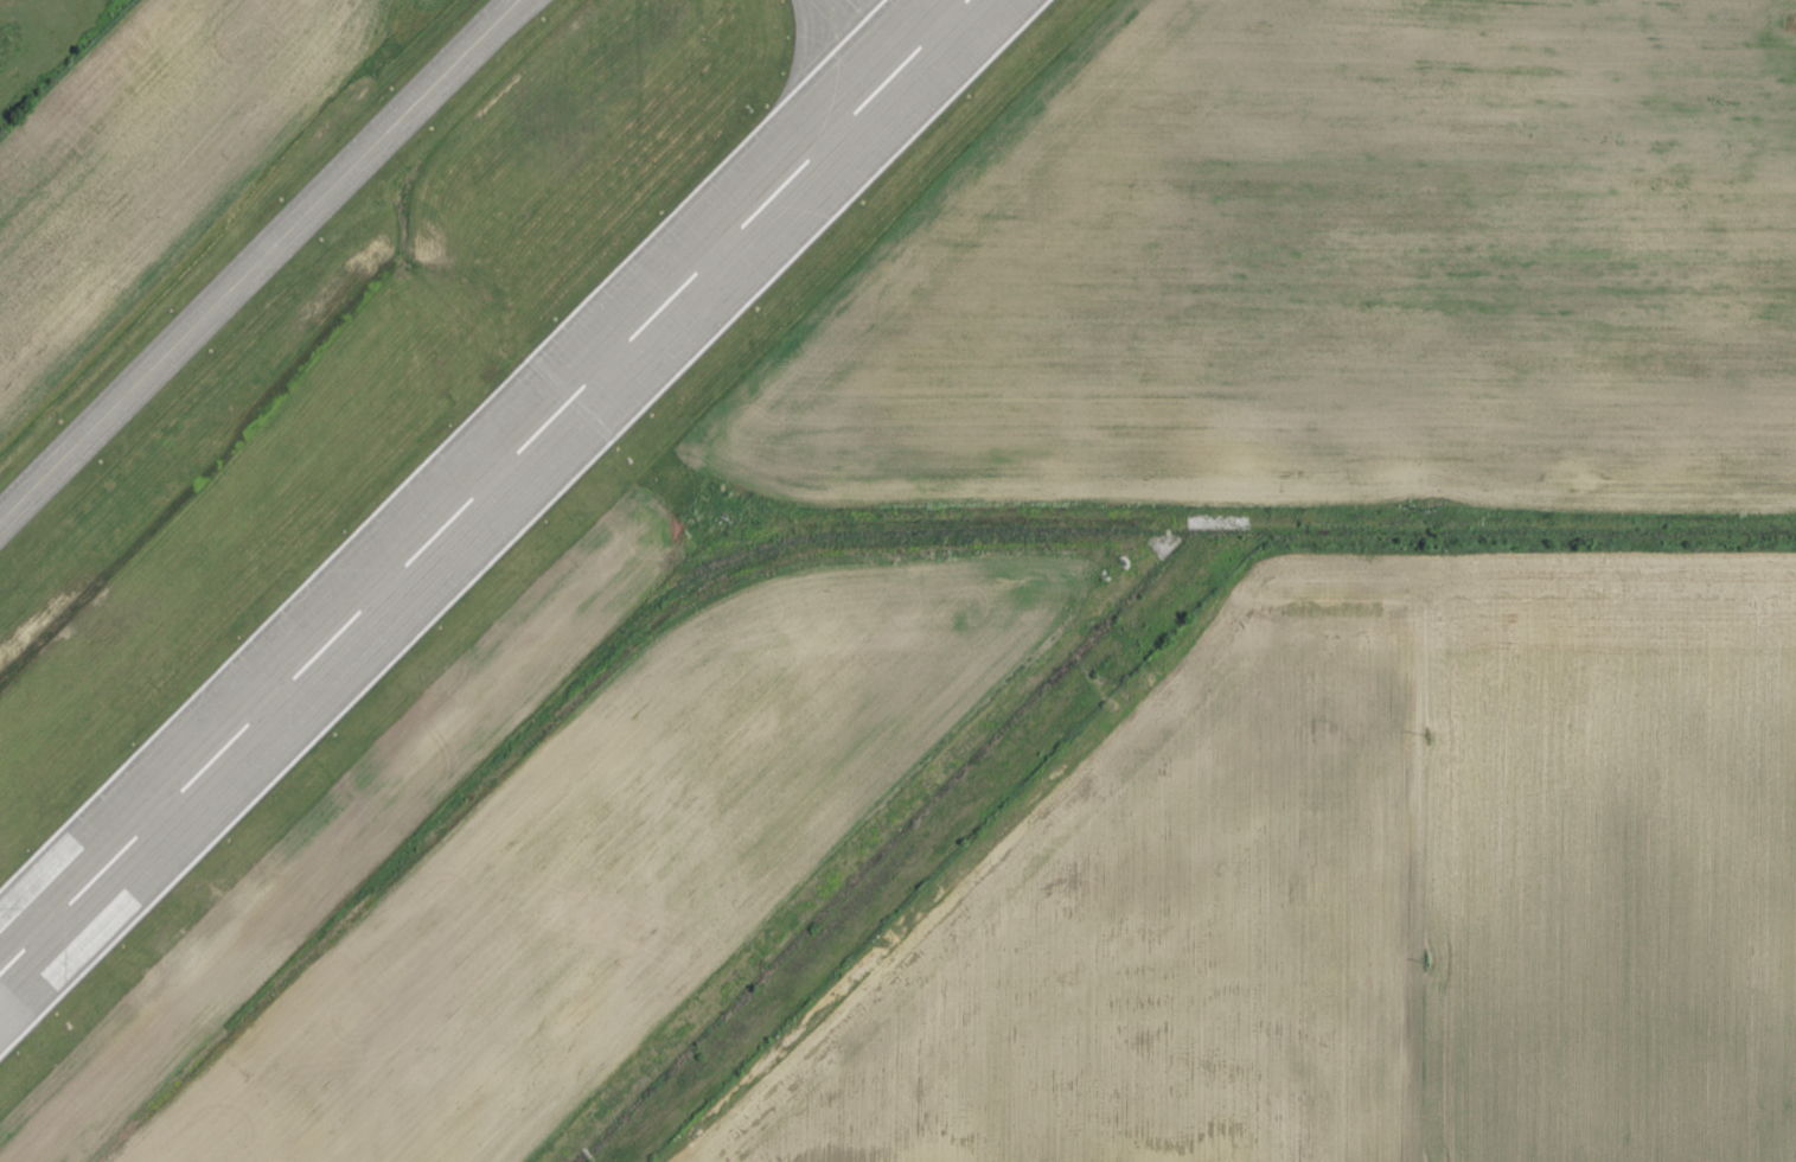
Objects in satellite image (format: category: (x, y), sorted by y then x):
airport taxiway: (874, 32)
airport taxiway: (262, 268)
airport: (752, 481)
airport runway: (484, 487)

